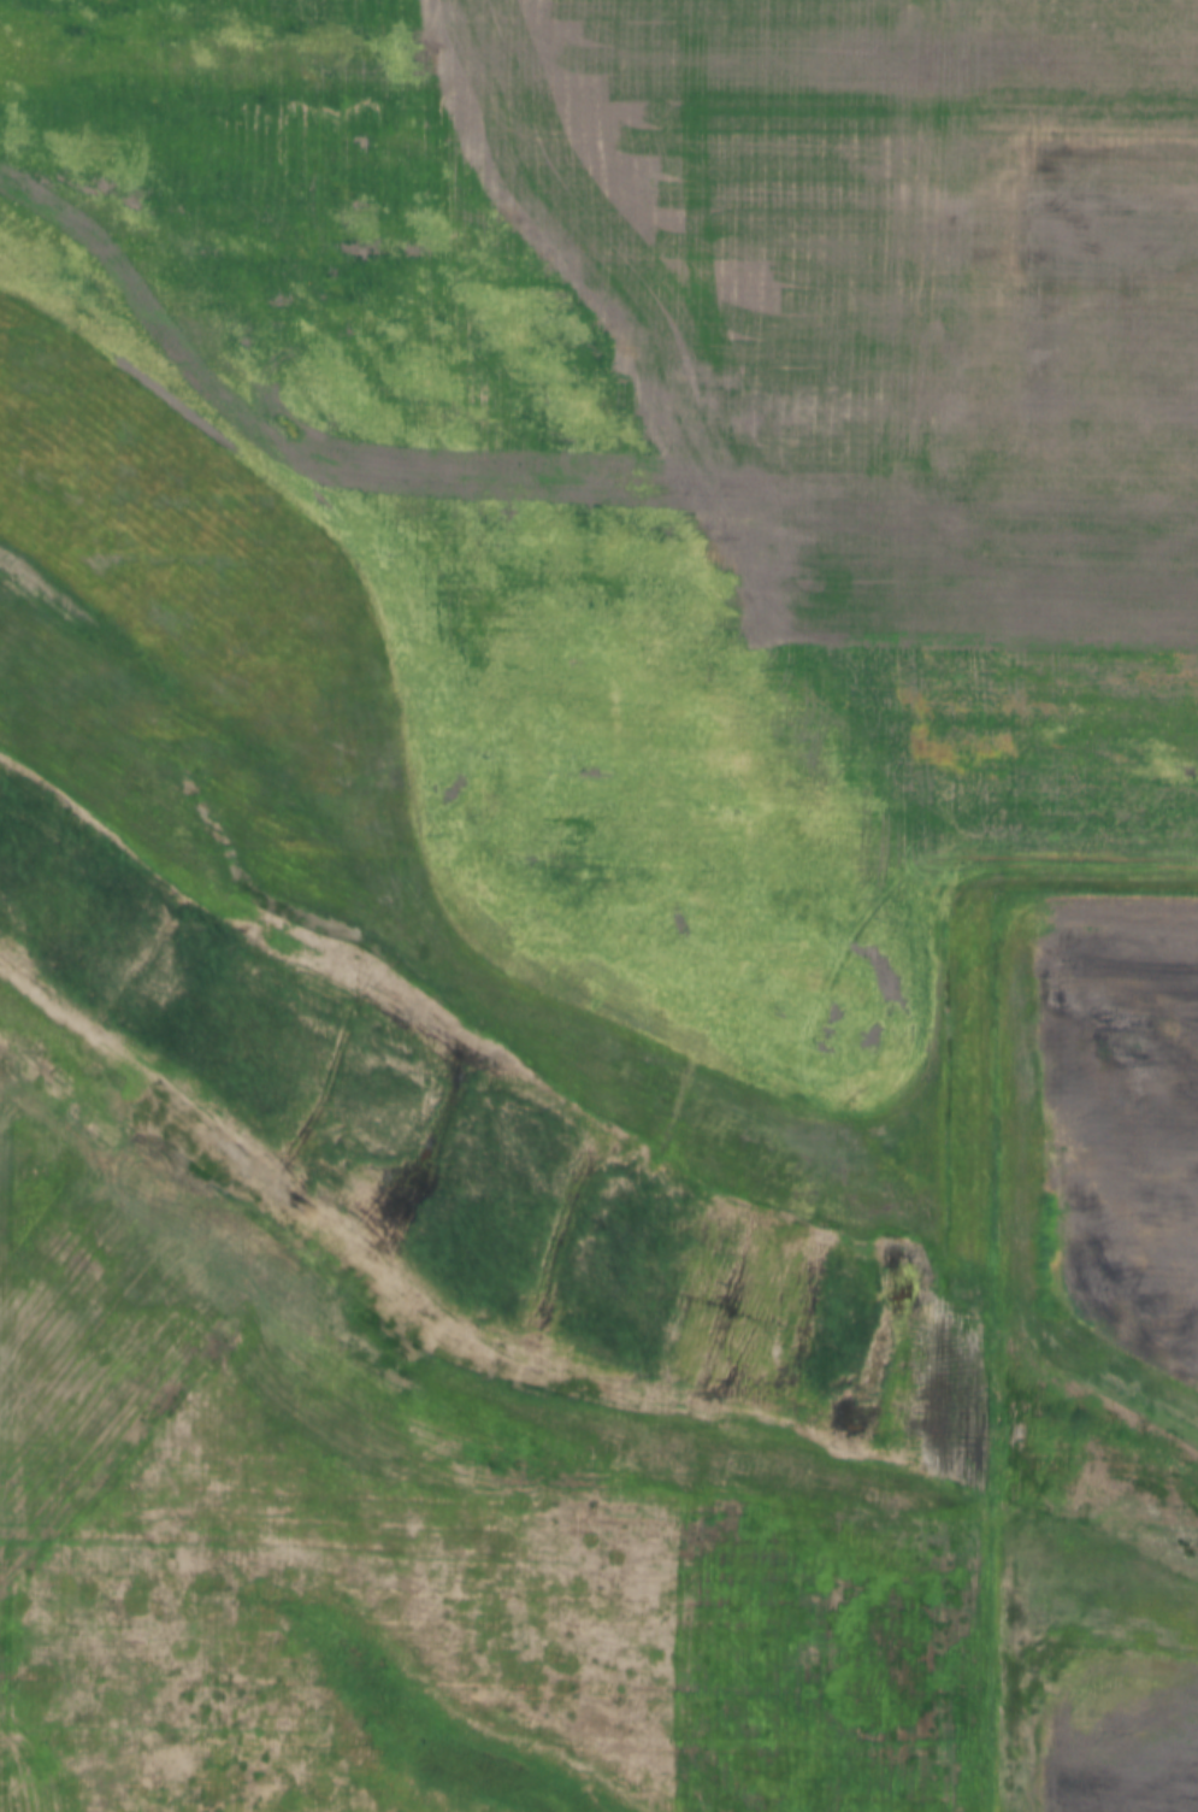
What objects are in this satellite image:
road: (998, 1264)

